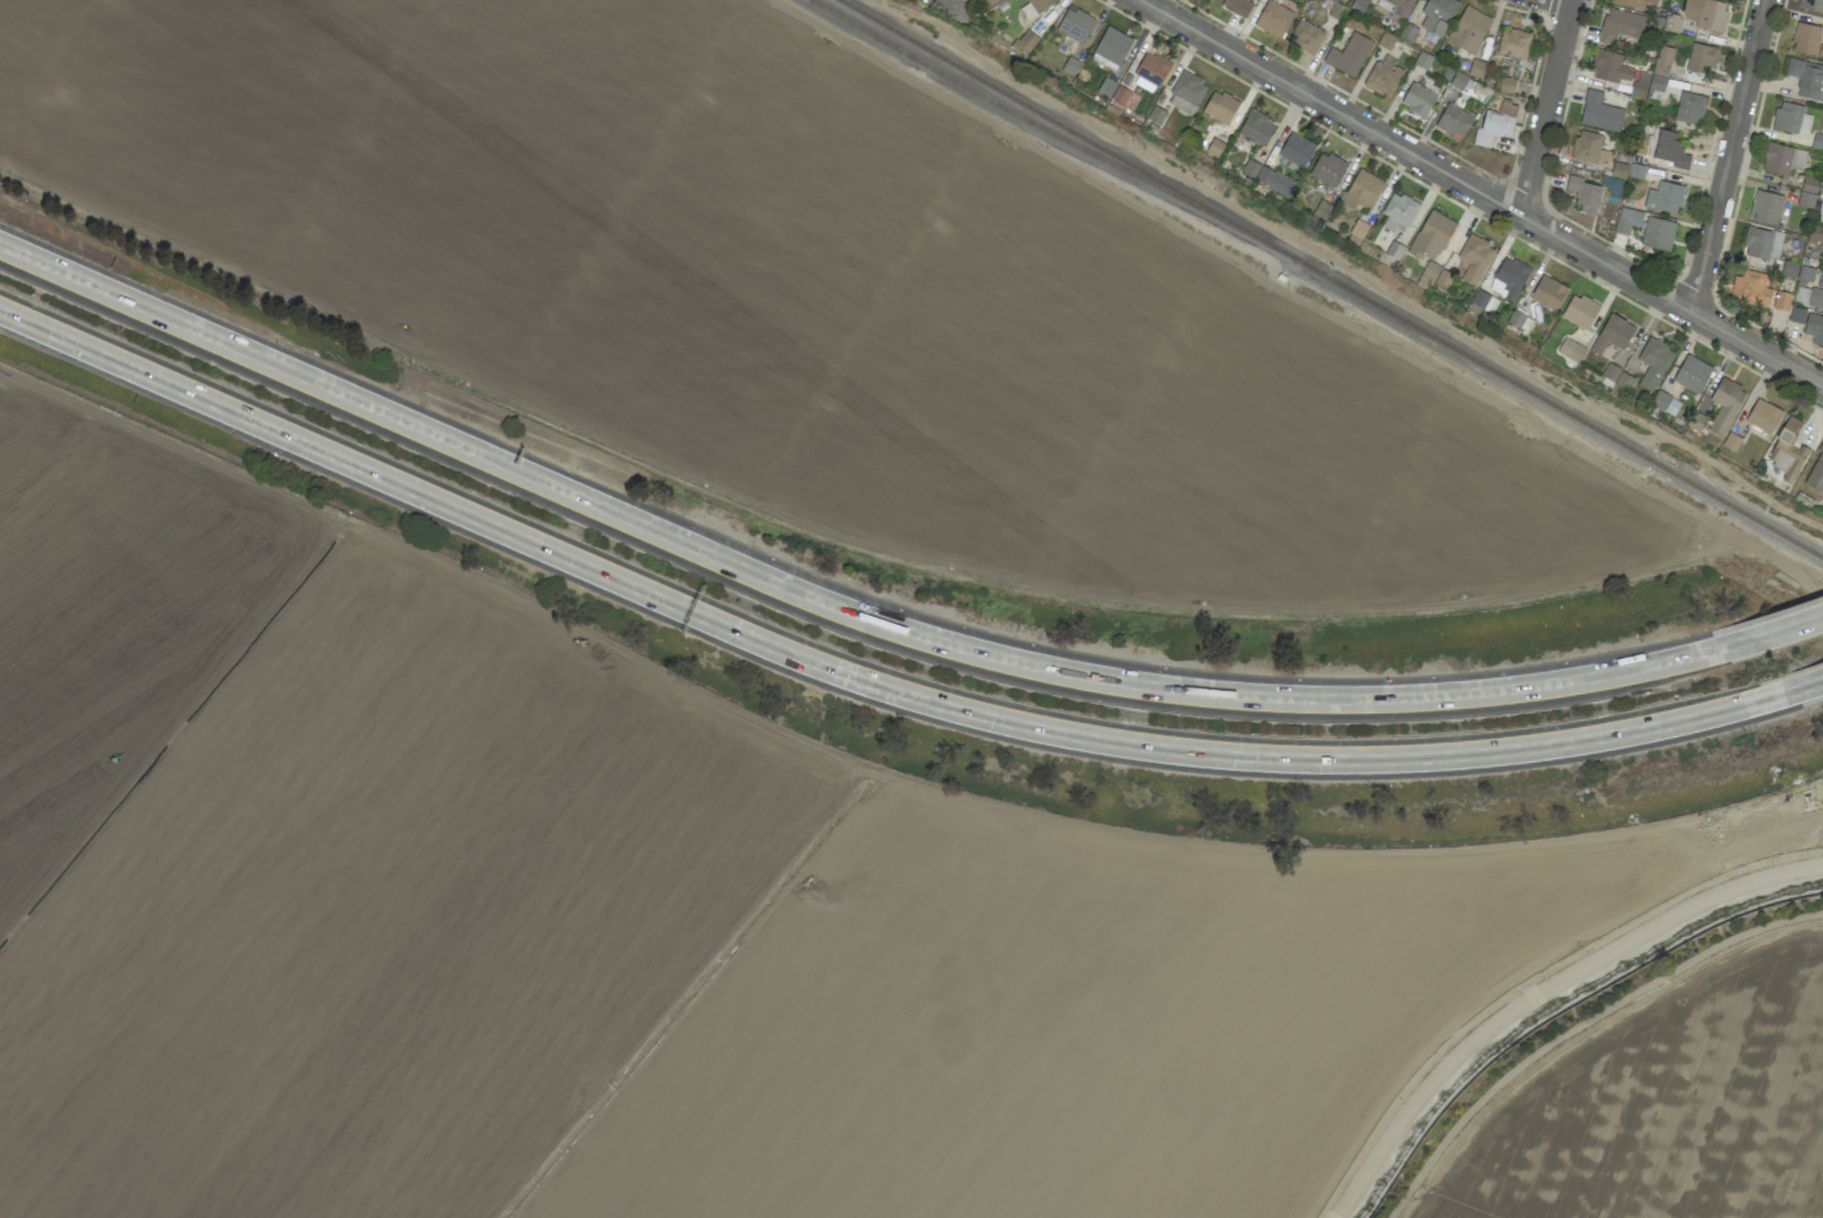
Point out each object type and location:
road: (1566, 1)
building: (1040, 4)
building: (1637, 4)
building: (1237, 5)
building: (1396, 6)
building: (1027, 11)
building: (1706, 13)
building: (1437, 14)
building: (1273, 19)
building: (1672, 23)
building: (1075, 24)
building: (1620, 25)
building: (1468, 30)
building: (1407, 31)
building: (1305, 36)
building: (1806, 38)
building: (1385, 41)
building: (1023, 42)
building: (1513, 43)
building: (1112, 45)
building: (1348, 55)
building: (1700, 57)
building: (1423, 60)
building: (1663, 60)
building: (1070, 66)
building: (1609, 67)
building: (1151, 68)
building: (1476, 68)
building: (1382, 78)
building: (1807, 78)
building: (1458, 80)
building: (1646, 84)
building: (1506, 85)
building: (1106, 86)
building: (1186, 92)
building: (1119, 94)
building: (1418, 99)
building: (1219, 106)
road: (1544, 108)
building: (1689, 108)
building: (1599, 112)
building: (1156, 115)
building: (1790, 117)
building: (1454, 120)
railway: (1053, 122)
building: (1495, 123)
railway: (1036, 126)
building: (1255, 128)
building: (1817, 141)
building: (1215, 147)
building: (1589, 147)
building: (1296, 149)
building: (1669, 149)
road: (1727, 157)
building: (1782, 159)
building: (1327, 169)
building: (1637, 171)
building: (1267, 178)
building: (1362, 190)
building: (1807, 191)
road: (1480, 194)
building: (1584, 194)
building: (1664, 197)
building: (1766, 207)
building: (1397, 213)
building: (1627, 220)
building: (1358, 229)
building: (1657, 233)
building: (1816, 234)
building: (1431, 235)
building: (1758, 243)
building: (1393, 250)
building: (1474, 258)
building: (1436, 275)
building: (1507, 280)
building: (1750, 288)
building: (1548, 293)
building: (1815, 298)
crop: (796, 299)
building: (1484, 300)
building: (1781, 300)
building: (1579, 311)
building: (1797, 314)
building: (1519, 320)
building: (1813, 328)
building: (1613, 333)
building: (1570, 349)
building: (1653, 362)
building: (1692, 373)
building: (1616, 378)
railway: (1546, 400)
building: (1665, 403)
building: (1725, 405)
building: (1763, 416)
building: (1696, 421)
building: (1731, 441)
building: (1788, 449)
building: (1816, 472)
road: (830, 606)
road: (1770, 634)
road: (846, 666)
road: (1786, 687)
crop: (748, 938)
road: (1577, 1026)
road: (1588, 1036)
road: (1730, 1036)
road: (1457, 1204)

